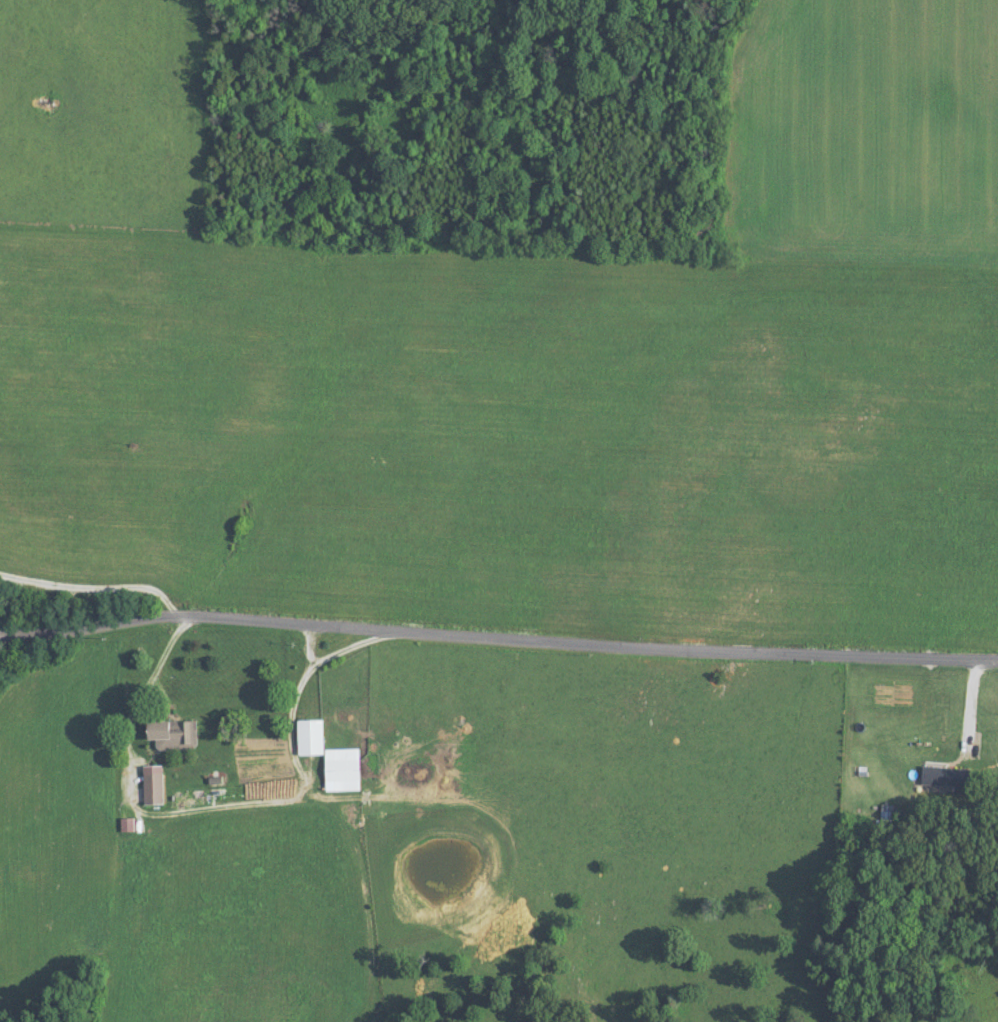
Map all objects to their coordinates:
road: (99, 579)
road: (54, 628)
road: (553, 636)
road: (315, 645)
road: (972, 704)
building: (174, 734)
building: (331, 756)
building: (944, 776)
building: (154, 784)
road: (234, 807)
building: (963, 1013)

